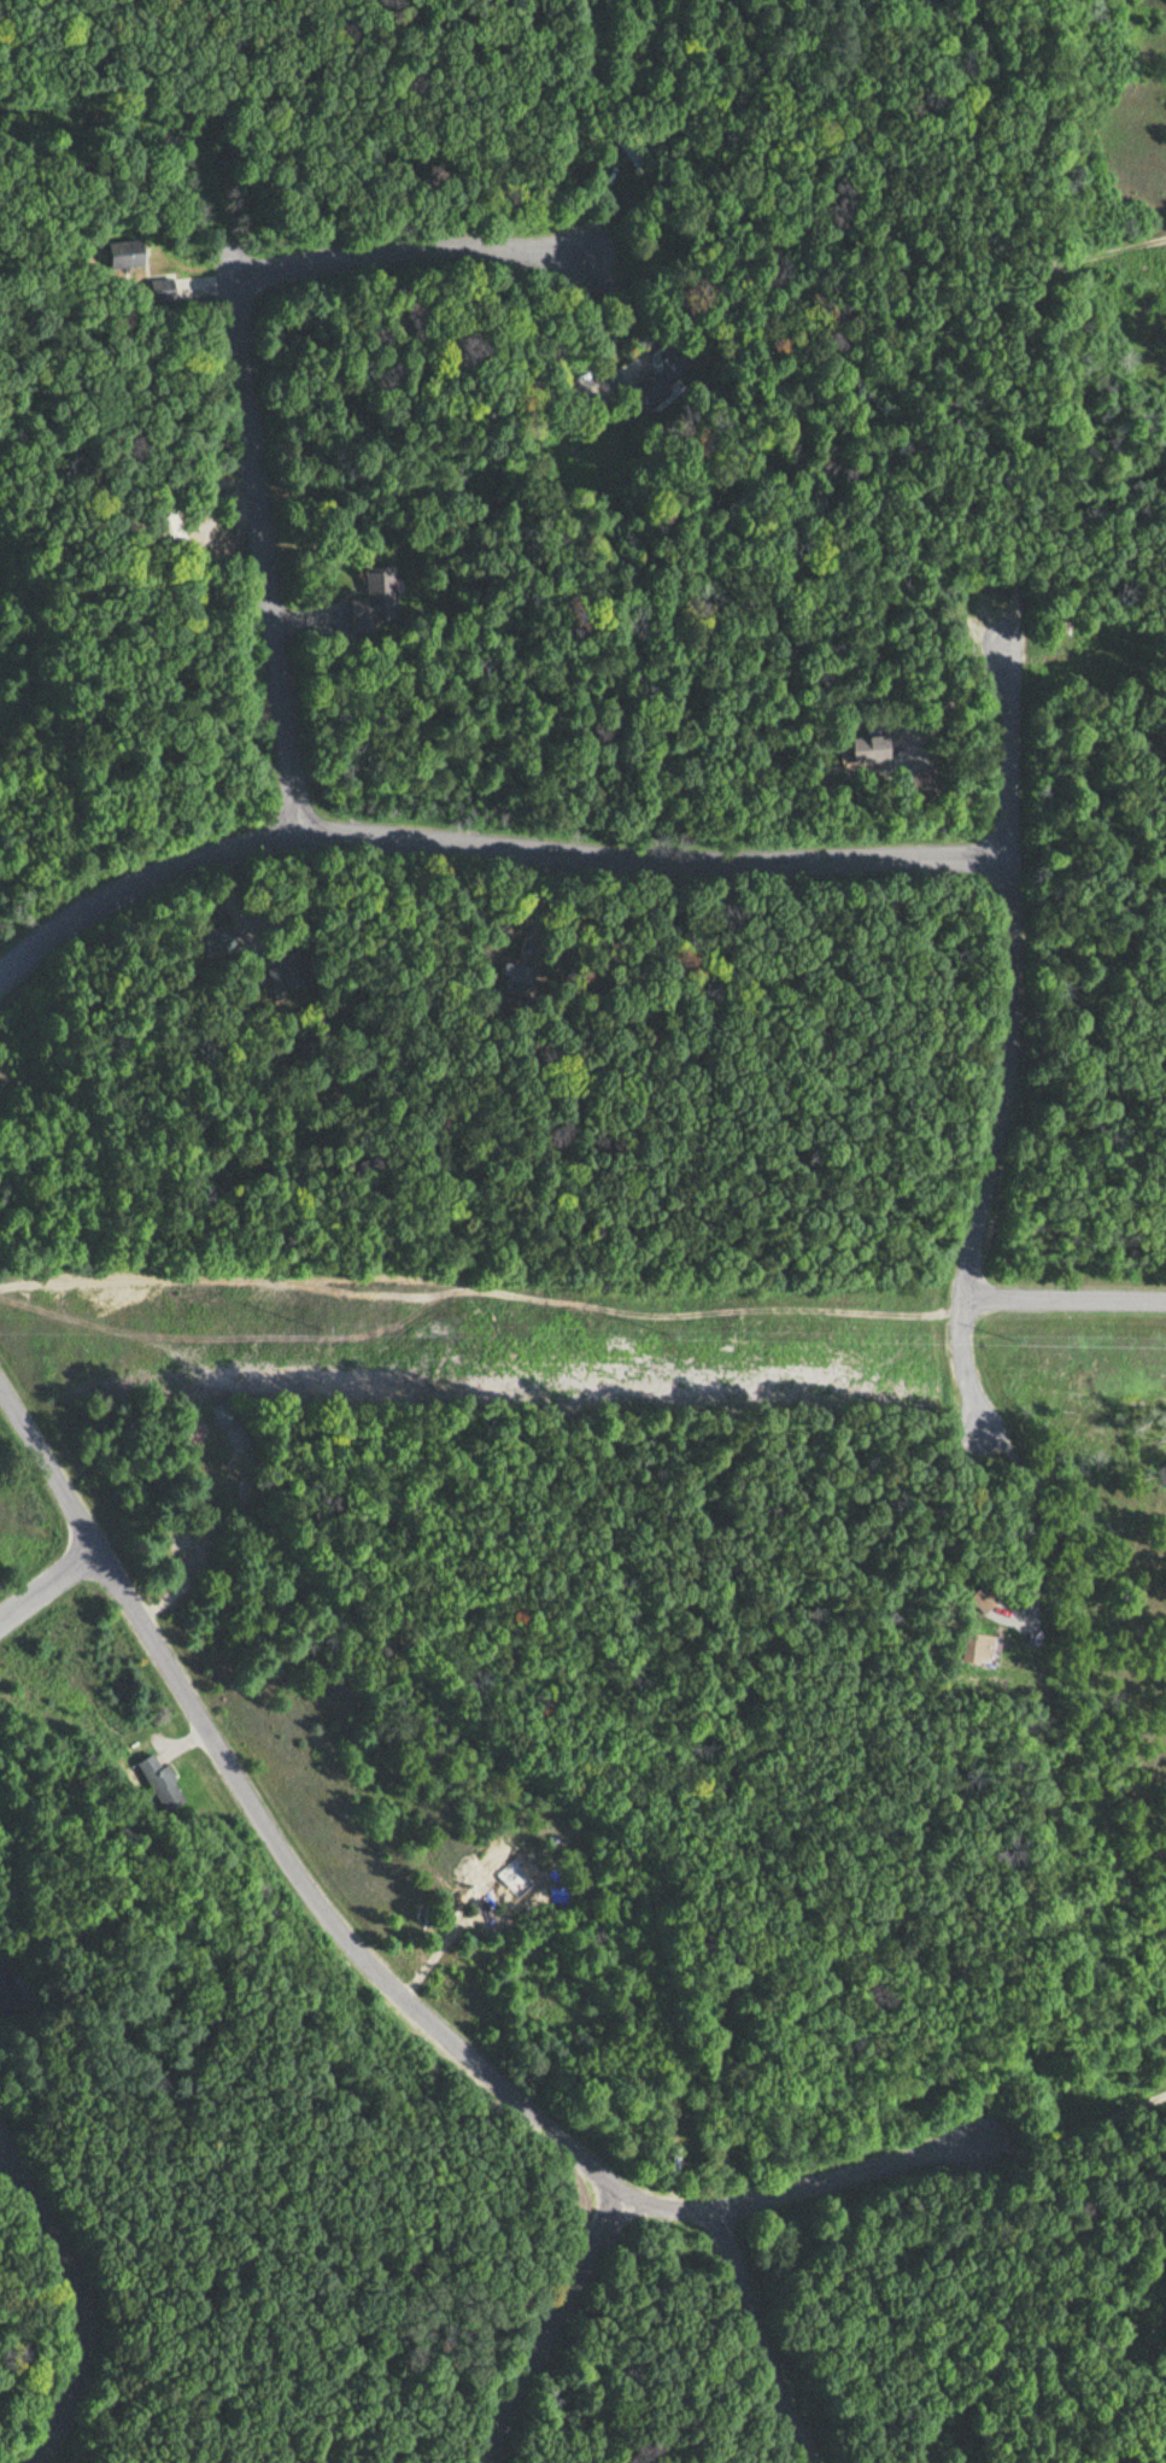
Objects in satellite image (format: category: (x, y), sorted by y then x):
road: (157, 135)
road: (415, 246)
building: (122, 253)
building: (159, 287)
road: (1023, 315)
building: (662, 378)
building: (166, 525)
road: (260, 550)
building: (376, 599)
building: (860, 748)
road: (488, 848)
building: (288, 966)
road: (1019, 966)
road: (1064, 1297)
road: (963, 1364)
road: (45, 1581)
building: (160, 1783)
road: (266, 1823)
building: (8, 1991)
road: (799, 2176)
road: (70, 2294)
road: (539, 2333)
road: (748, 2339)

